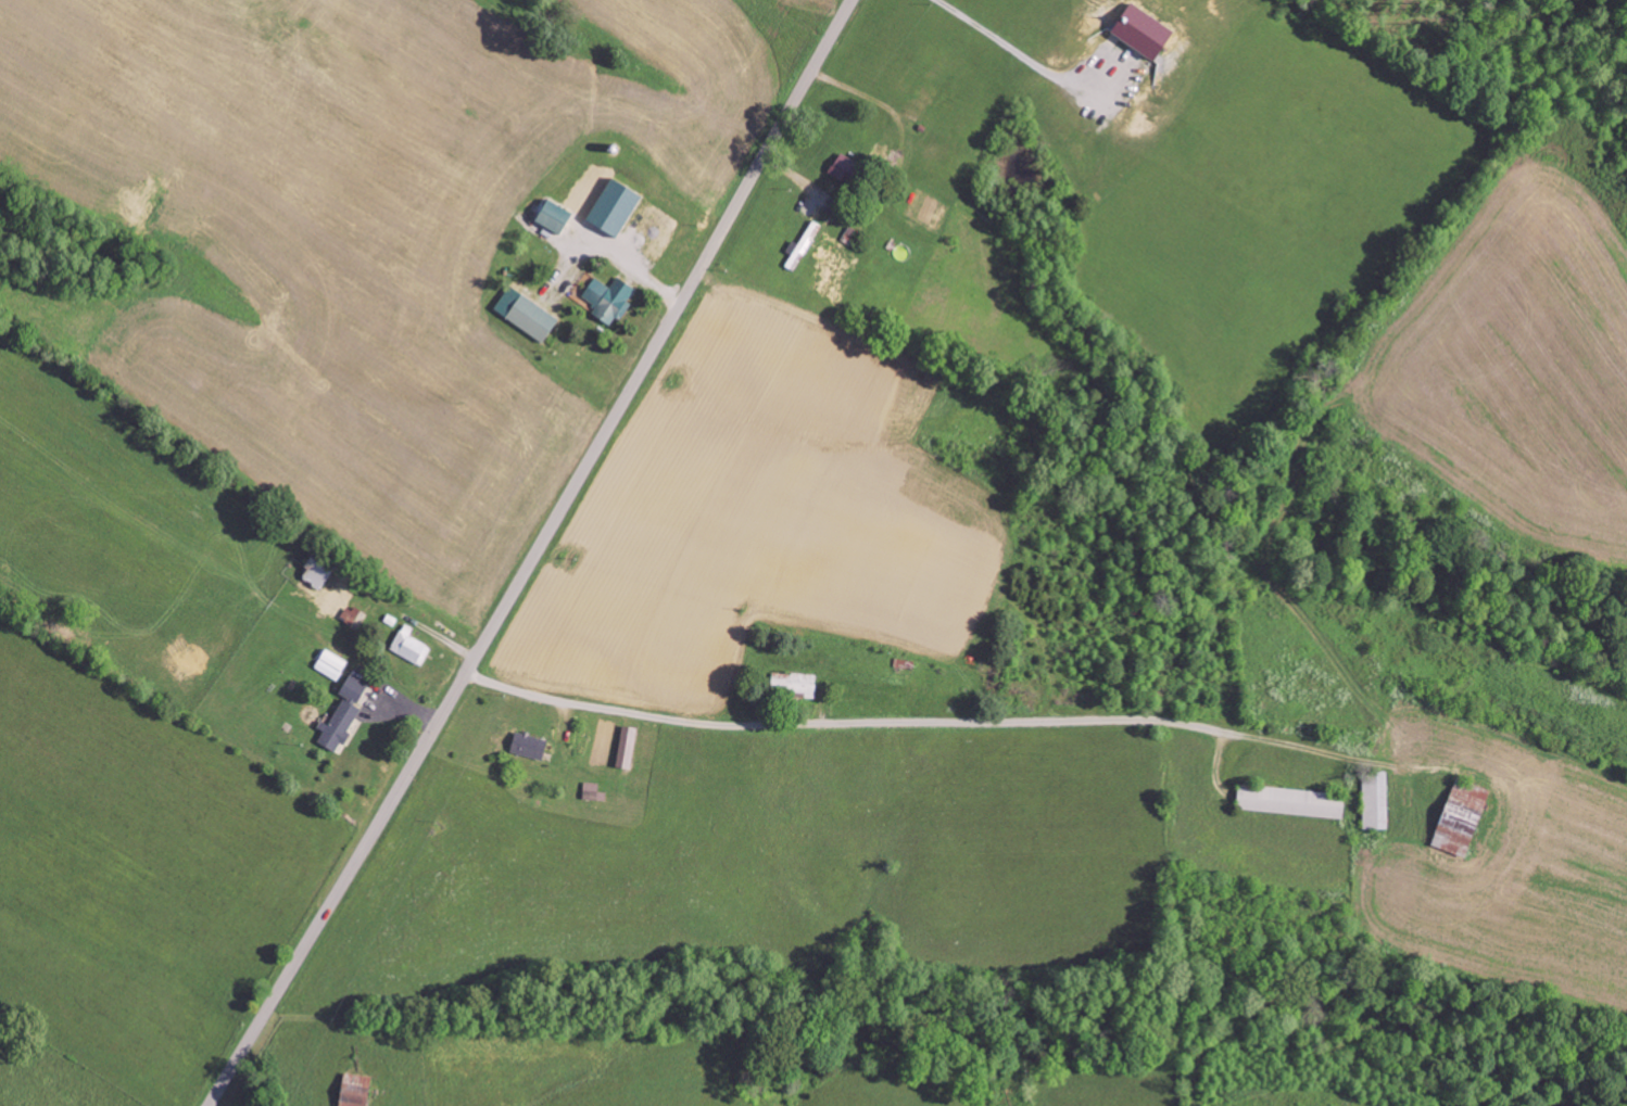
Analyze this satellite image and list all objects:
building: (1148, 31)
building: (849, 169)
building: (619, 206)
building: (559, 217)
building: (609, 298)
building: (528, 314)
road: (537, 555)
building: (351, 614)
building: (409, 645)
building: (332, 661)
building: (799, 683)
building: (345, 714)
road: (824, 722)
building: (532, 747)
building: (629, 747)
building: (1377, 799)
building: (1296, 802)
building: (1465, 817)
building: (358, 1090)

